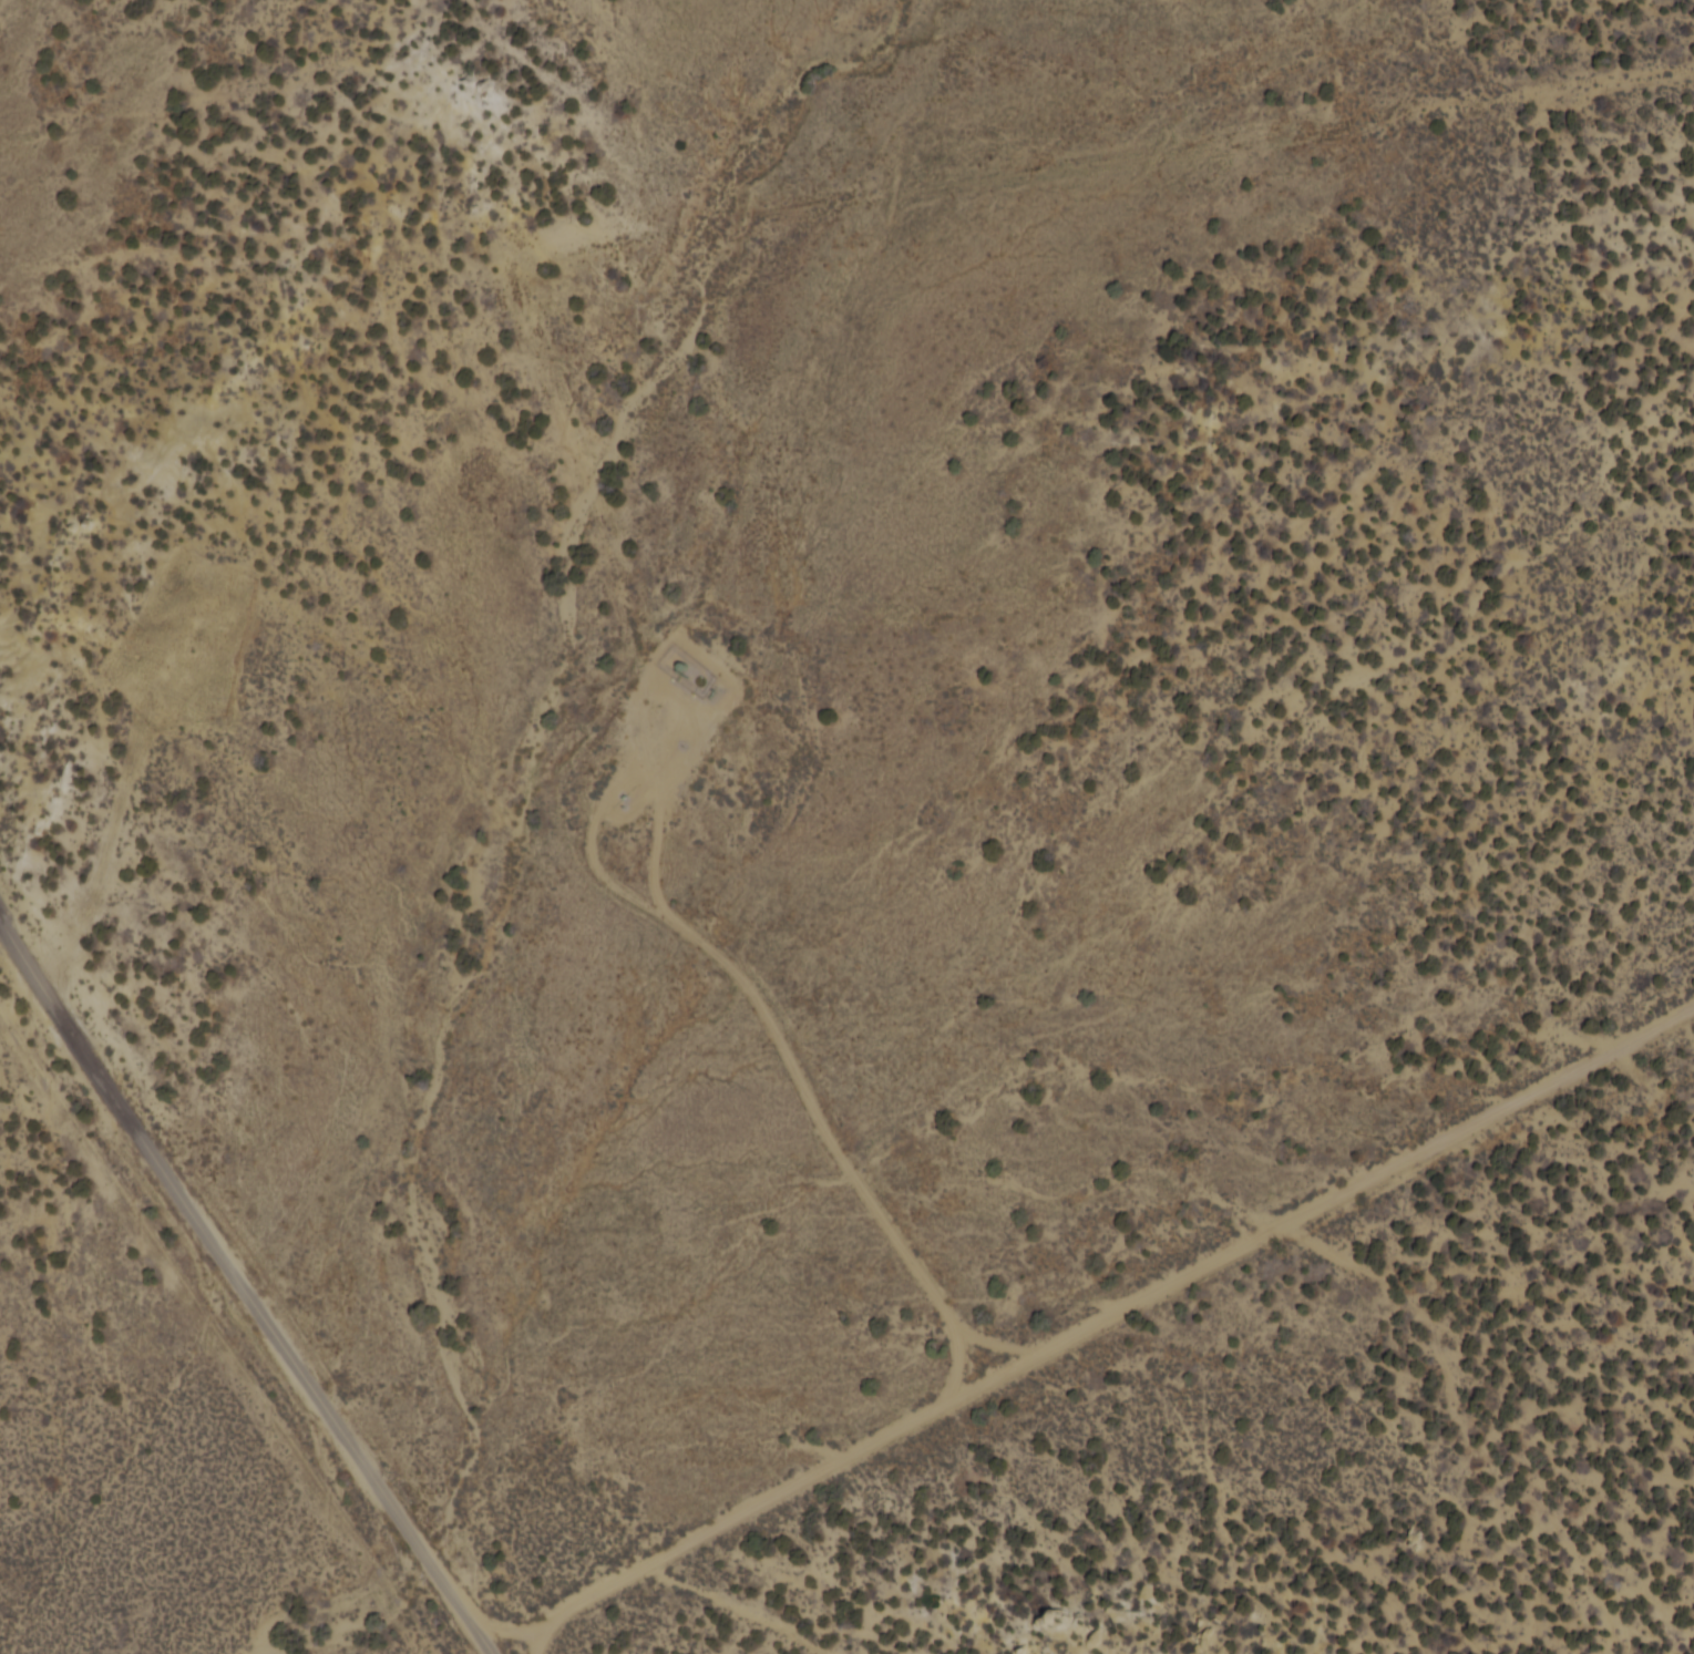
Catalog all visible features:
river: (502, 839)
road: (246, 1282)
road: (1097, 1307)
road: (512, 1629)

